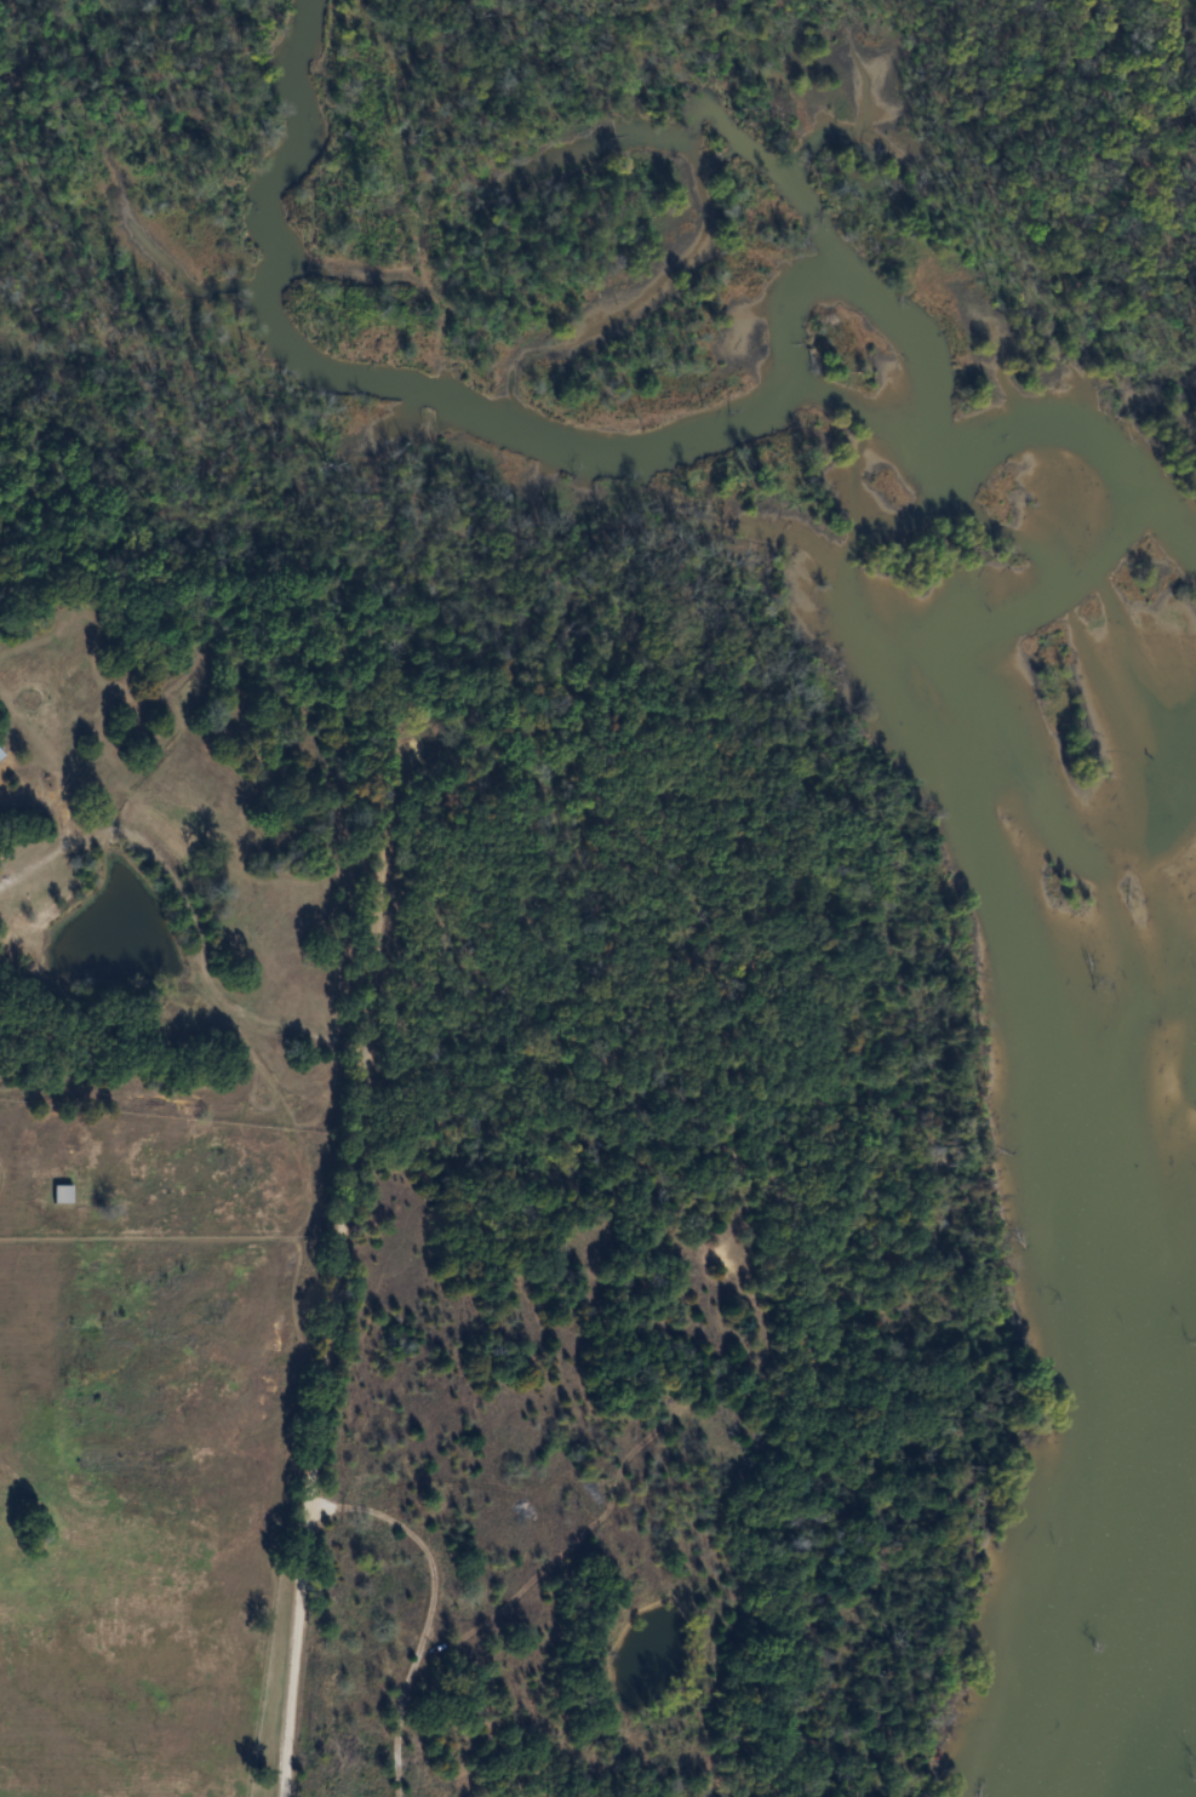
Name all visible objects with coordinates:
building: (1, 755)
building: (62, 1194)
road: (292, 1671)

